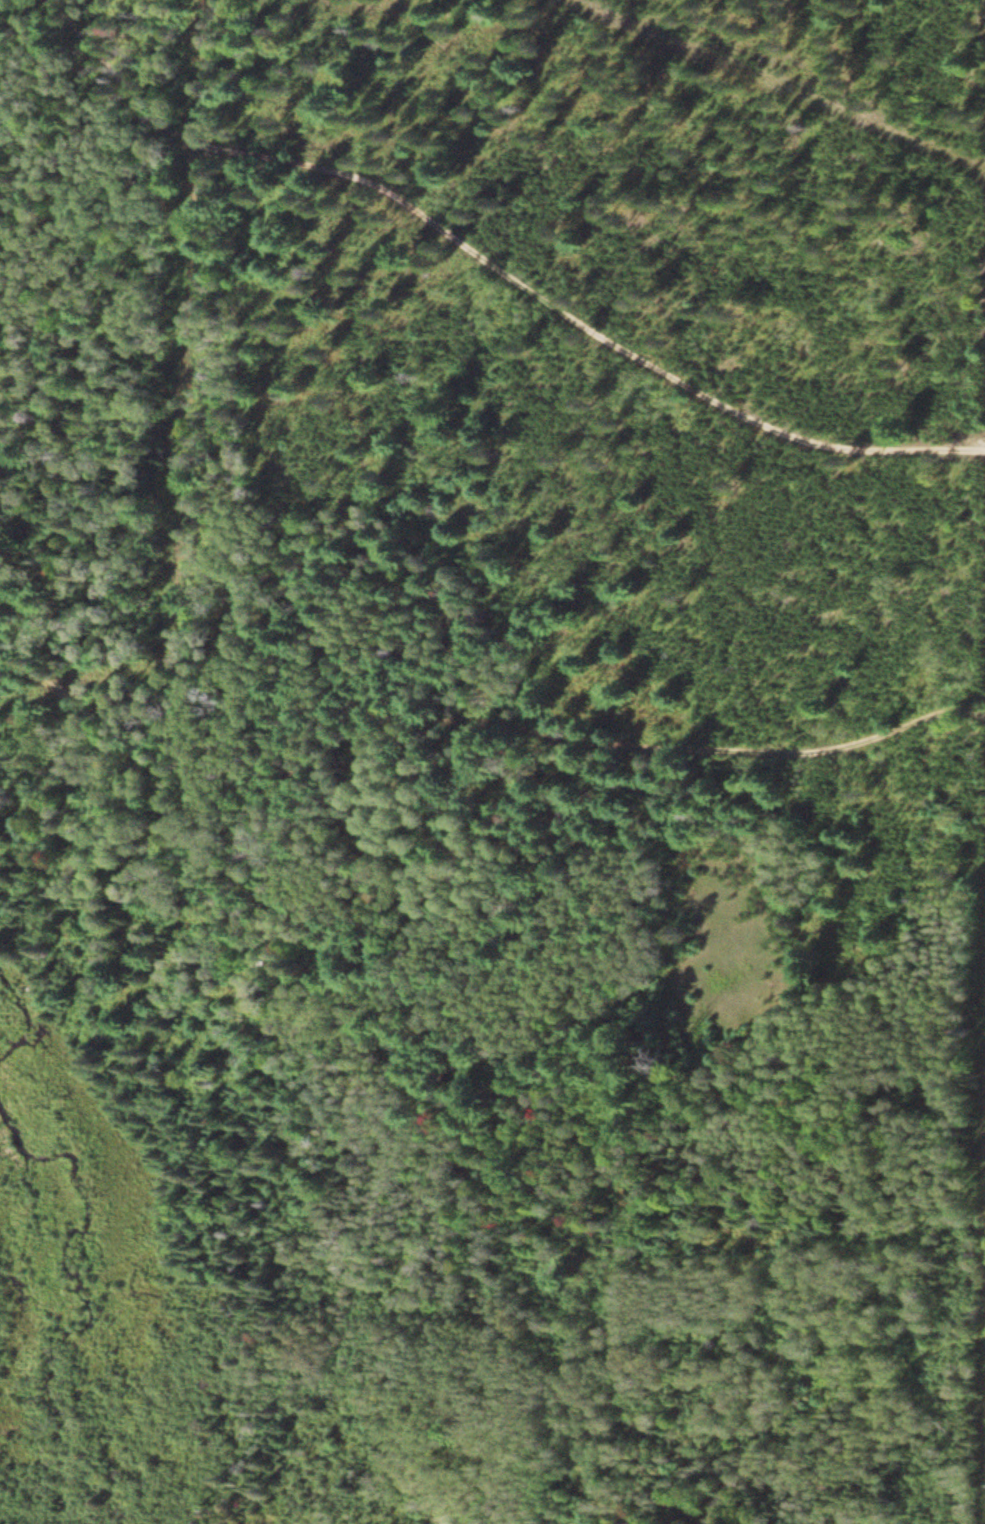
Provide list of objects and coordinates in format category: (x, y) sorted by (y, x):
road: (159, 102)
road: (613, 324)
road: (624, 731)
road: (141, 757)

